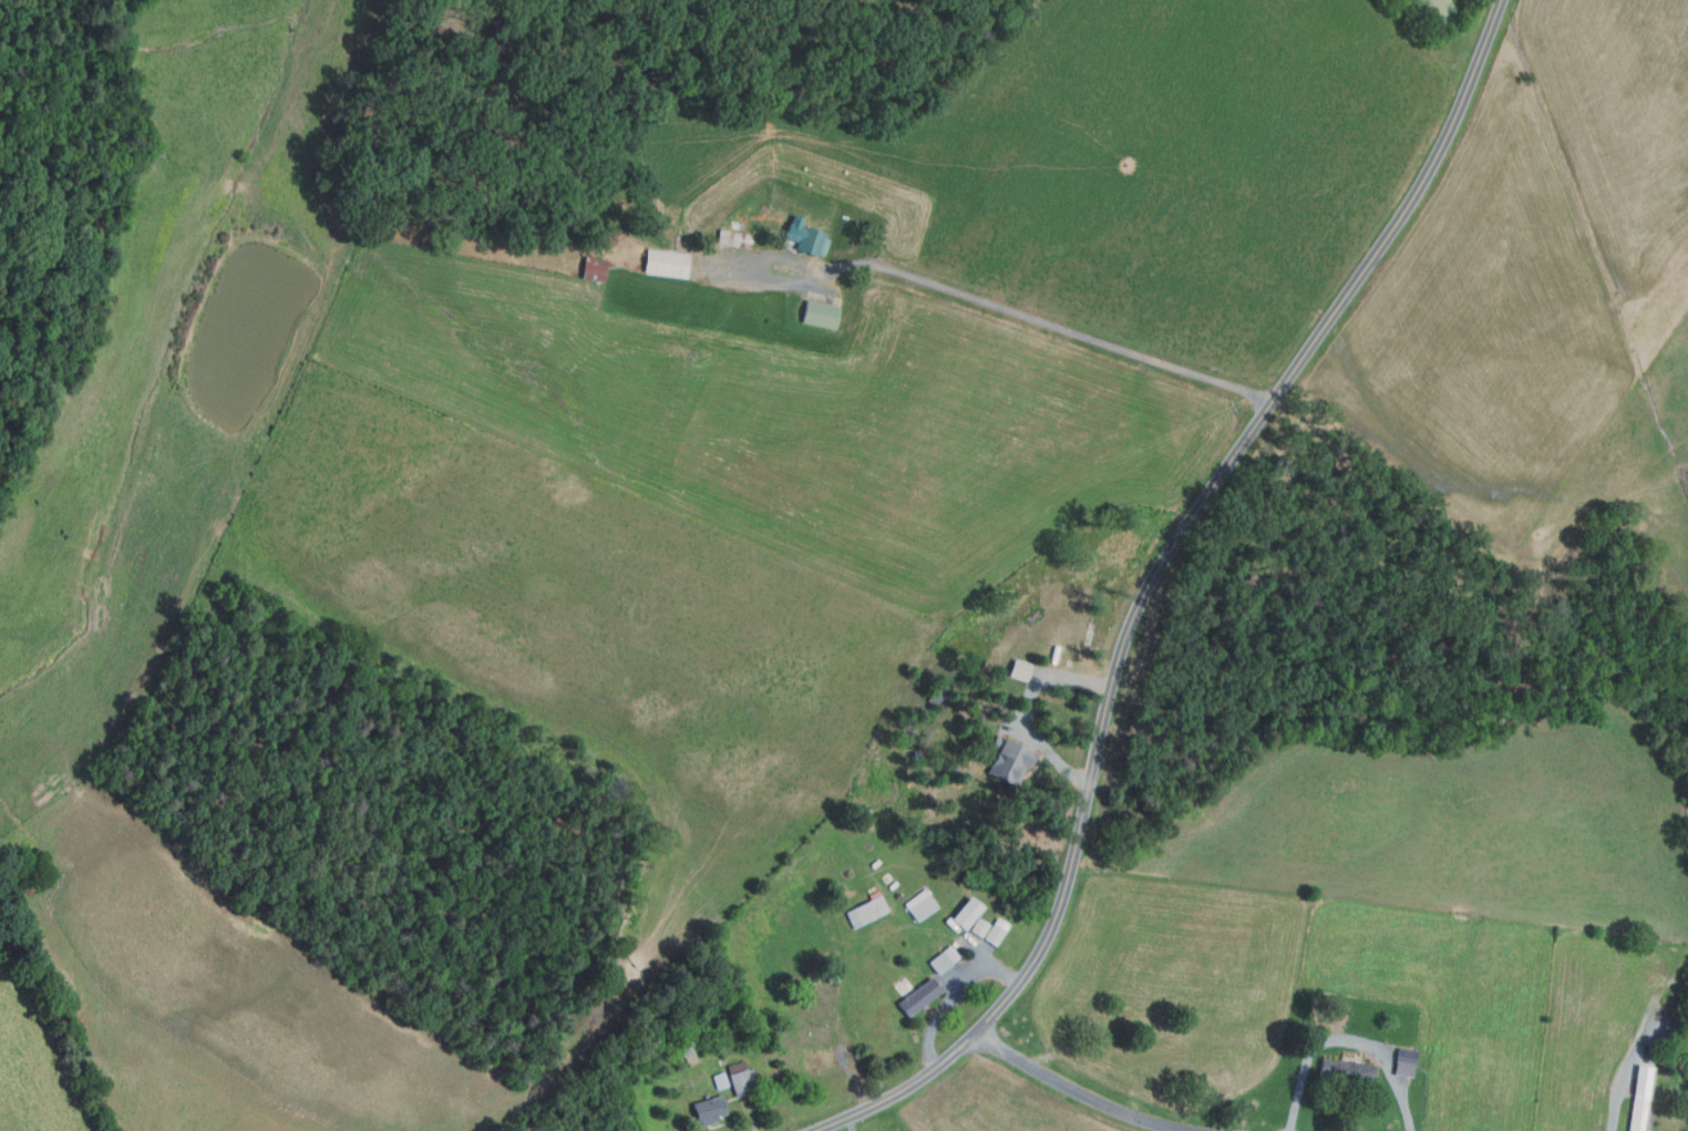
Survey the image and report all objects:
building: (785, 181)
building: (742, 212)
building: (733, 236)
building: (805, 237)
building: (665, 261)
building: (593, 267)
building: (820, 315)
road: (1069, 335)
road: (1151, 580)
building: (1019, 669)
building: (938, 691)
road: (1051, 753)
building: (1009, 759)
building: (920, 905)
building: (865, 911)
building: (966, 912)
building: (979, 928)
building: (995, 932)
building: (950, 953)
building: (939, 963)
building: (832, 977)
road: (953, 994)
building: (918, 995)
road: (1344, 1041)
building: (685, 1050)
building: (1406, 1055)
building: (819, 1057)
building: (1346, 1073)
building: (1686, 1073)
building: (740, 1077)
road: (854, 1079)
building: (1644, 1079)
building: (720, 1081)
road: (1079, 1092)
road: (1618, 1099)
building: (759, 1104)
building: (707, 1109)
building: (1638, 1114)
road: (747, 1115)
road: (848, 1124)

